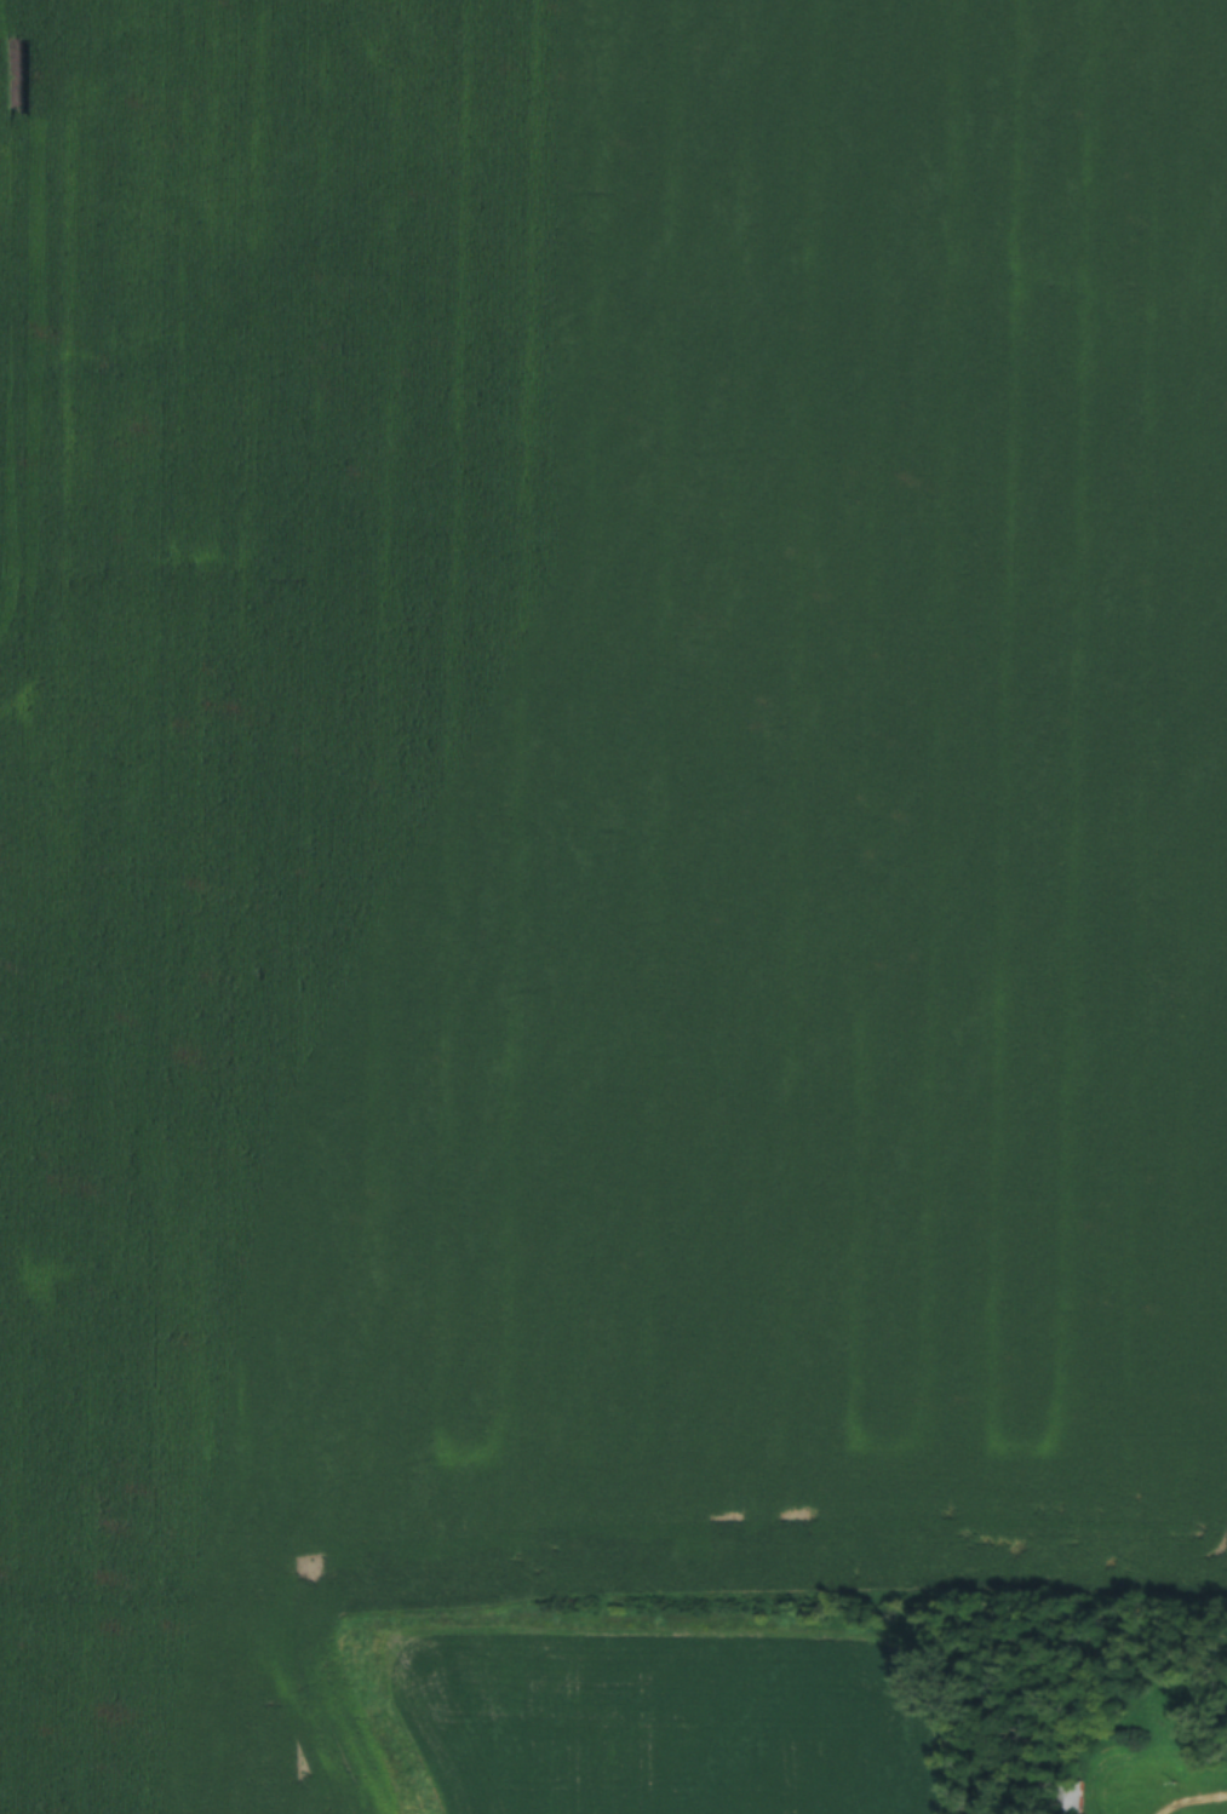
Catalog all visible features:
building: (1185, 1722)
road: (1191, 1797)
building: (1073, 1798)

